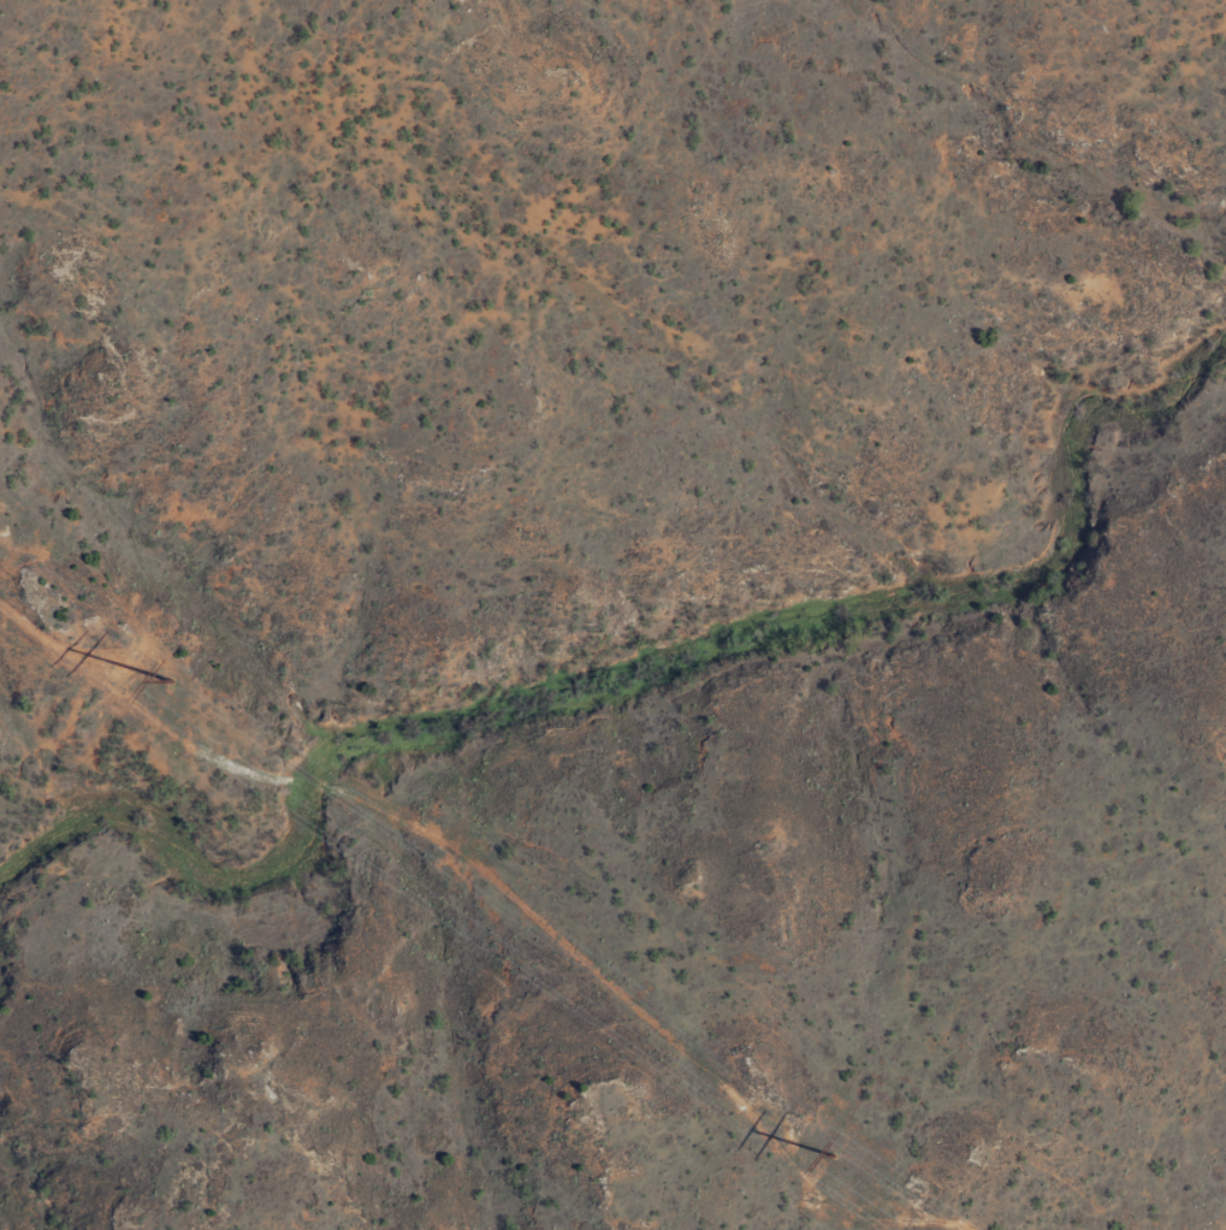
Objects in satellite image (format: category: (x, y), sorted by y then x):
power tower: (171, 680)
power tower: (834, 1154)

